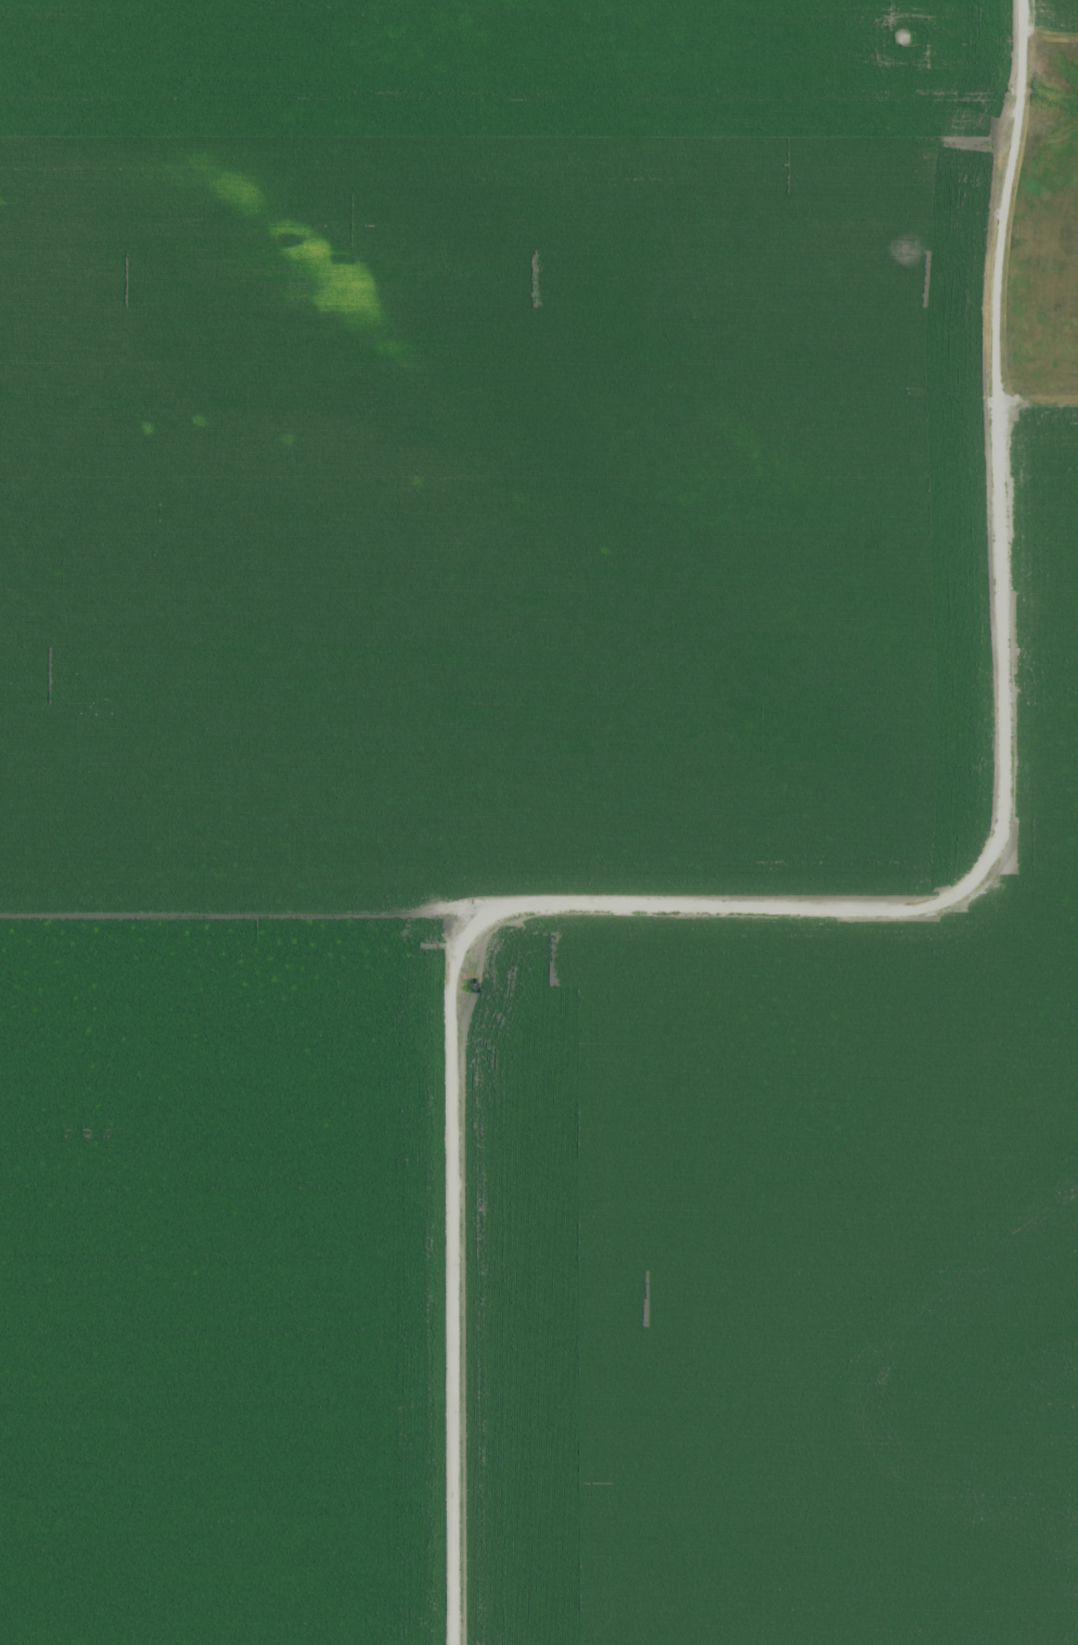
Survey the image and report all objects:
road: (805, 907)

